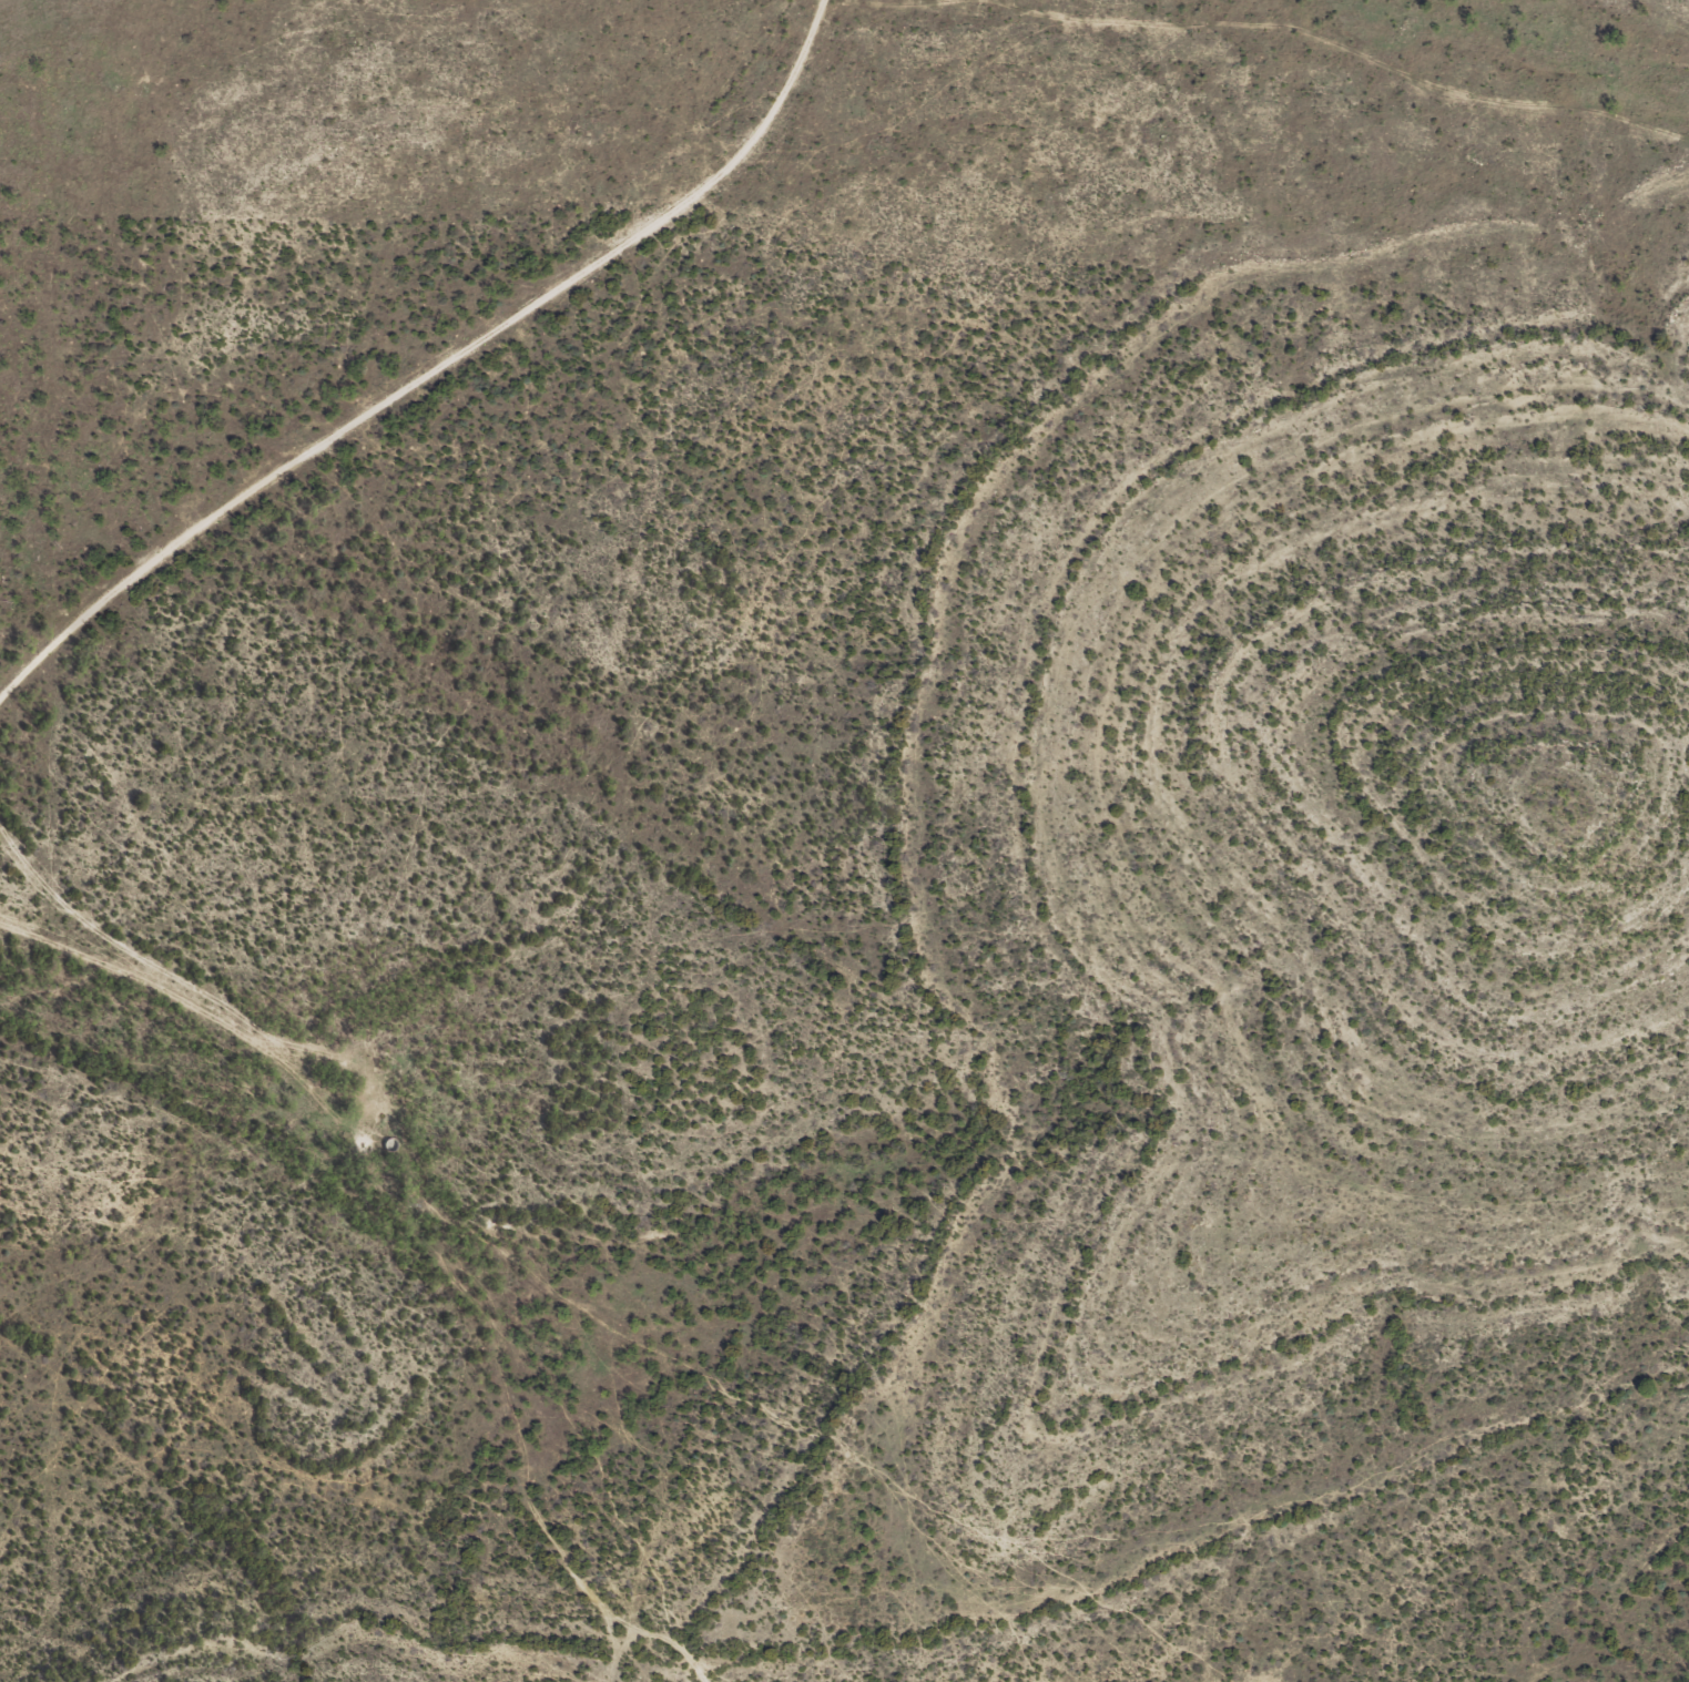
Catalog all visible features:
road: (437, 380)
road: (142, 941)

